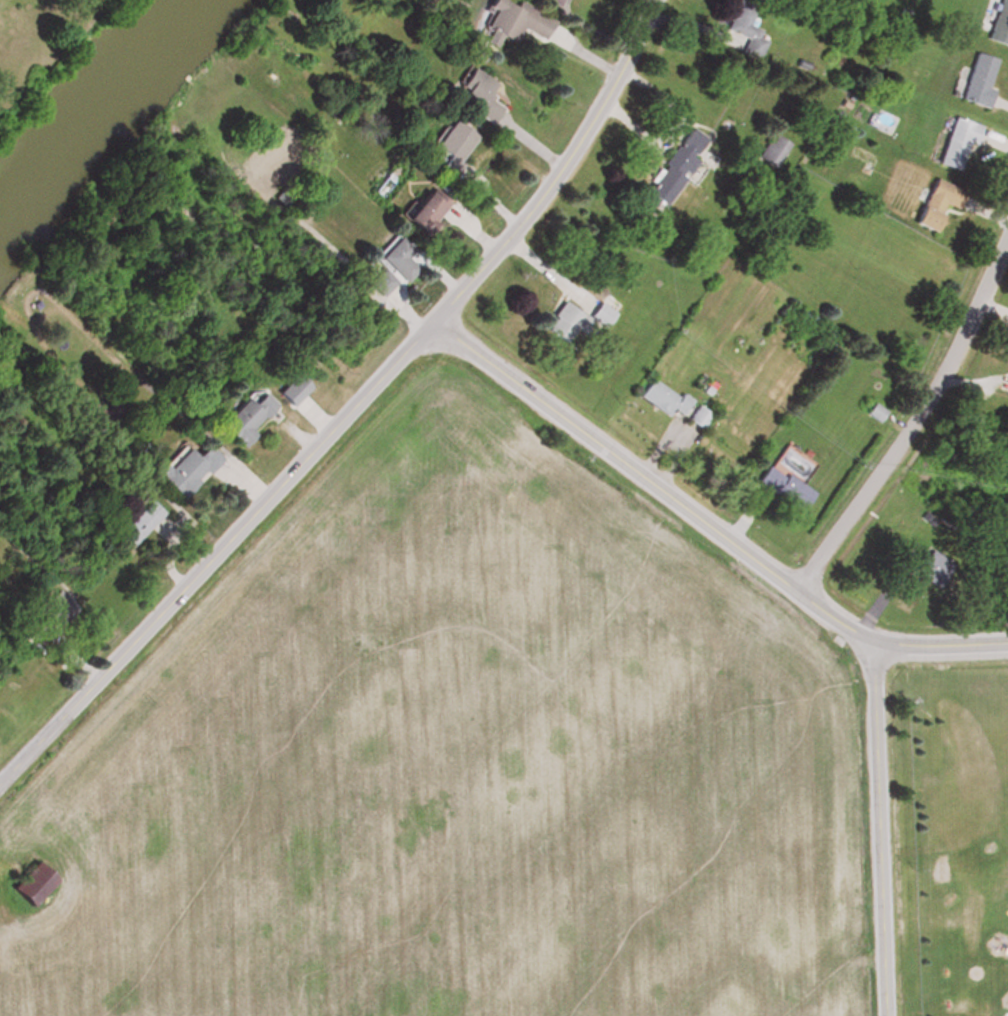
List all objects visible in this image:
building: (548, 2)
building: (508, 20)
building: (999, 20)
building: (741, 28)
building: (976, 77)
river: (75, 100)
building: (447, 140)
building: (955, 141)
building: (770, 149)
building: (671, 168)
building: (933, 202)
building: (419, 210)
building: (387, 264)
road: (541, 270)
building: (598, 314)
building: (565, 323)
building: (287, 390)
building: (661, 398)
road: (351, 407)
building: (875, 411)
building: (243, 416)
building: (696, 416)
road: (911, 417)
building: (182, 469)
building: (781, 486)
building: (136, 521)
road: (704, 521)
building: (923, 566)
building: (51, 617)
road: (875, 827)
building: (26, 884)

